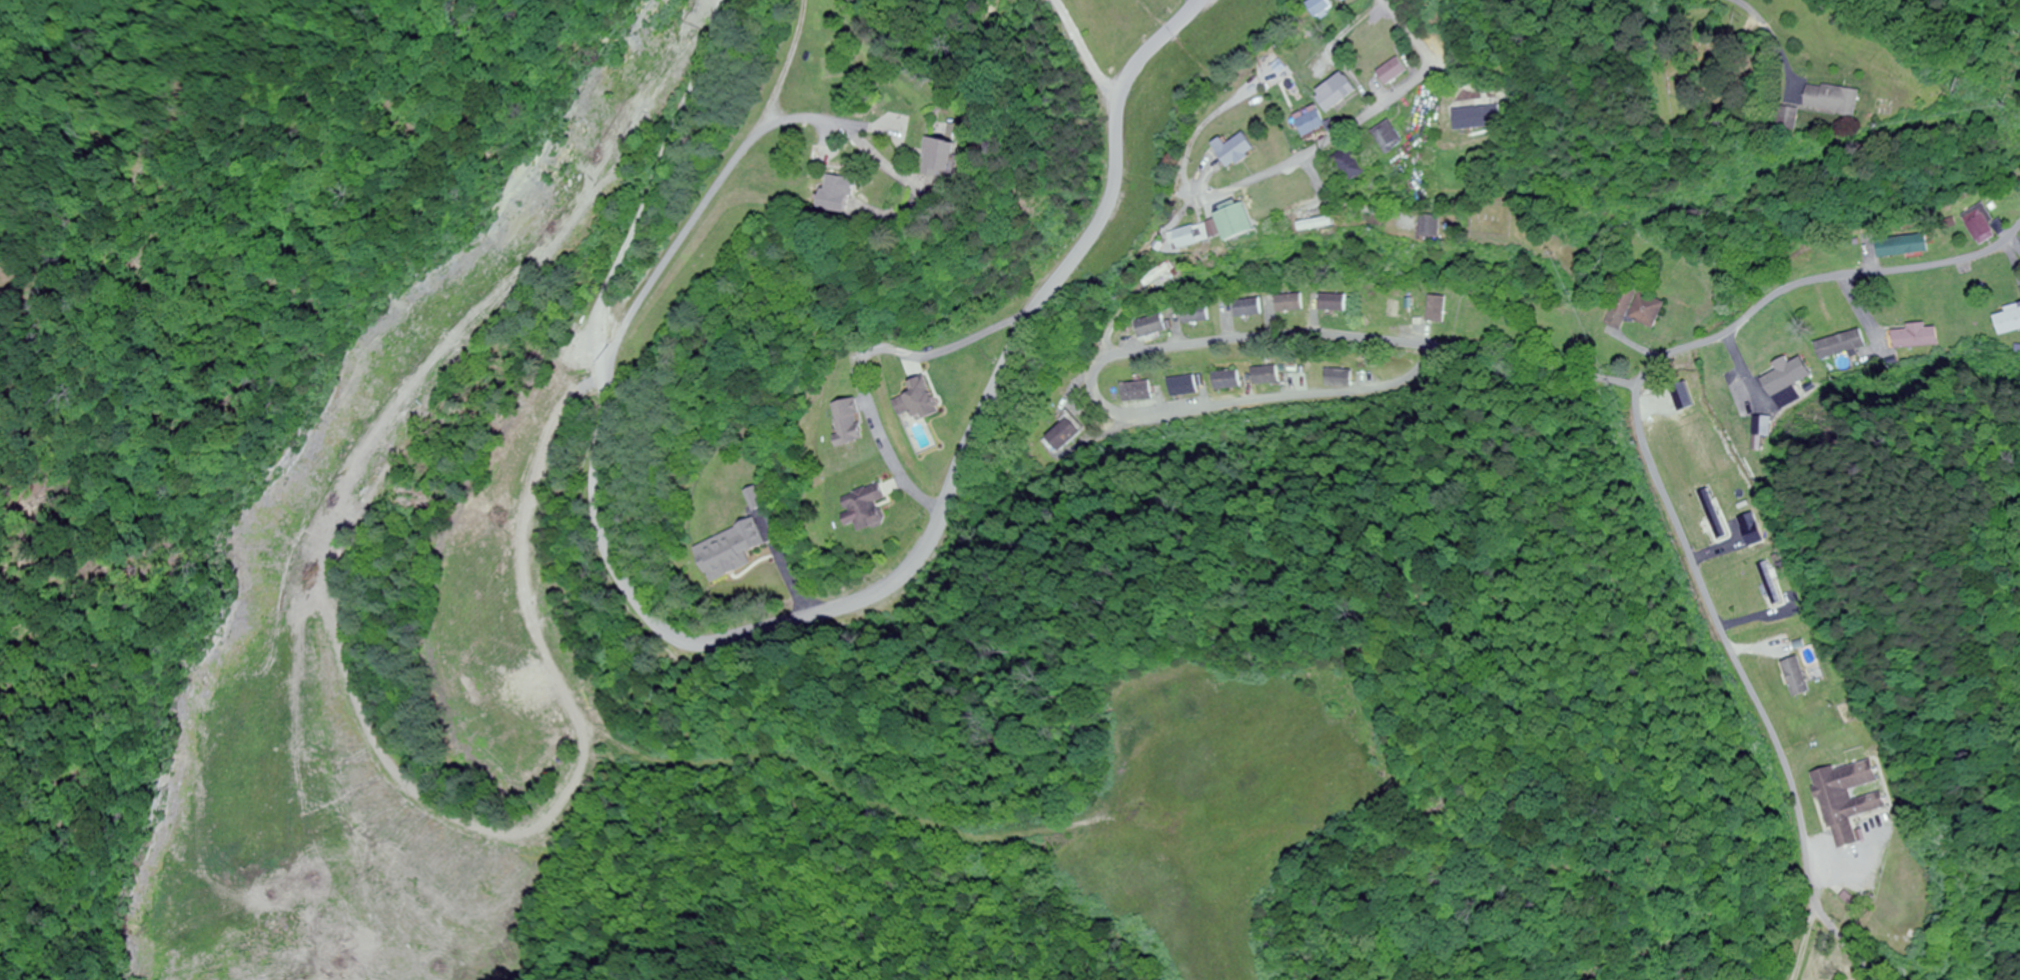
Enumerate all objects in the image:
building: (1349, 0)
building: (1326, 8)
road: (1748, 39)
road: (1156, 44)
road: (1084, 46)
building: (1400, 72)
power tower: (1969, 89)
building: (1342, 92)
building: (1840, 101)
building: (1485, 118)
building: (1318, 123)
road: (1362, 123)
building: (1396, 138)
building: (1240, 151)
building: (949, 162)
road: (737, 164)
building: (1357, 166)
building: (843, 196)
building: (1243, 224)
building: (1323, 226)
building: (1980, 226)
building: (1435, 229)
building: (1199, 238)
building: (1903, 247)
building: (1163, 275)
building: (1332, 304)
building: (1289, 305)
building: (1248, 309)
building: (1434, 310)
building: (1635, 310)
building: (1197, 316)
building: (2007, 321)
building: (1152, 327)
building: (1916, 337)
road: (1167, 343)
building: (1266, 376)
building: (1339, 378)
building: (1227, 380)
building: (1183, 386)
building: (1790, 387)
building: (1136, 392)
building: (920, 401)
building: (851, 422)
building: (1064, 433)
road: (1659, 487)
building: (868, 507)
road: (725, 640)
building: (1846, 799)

